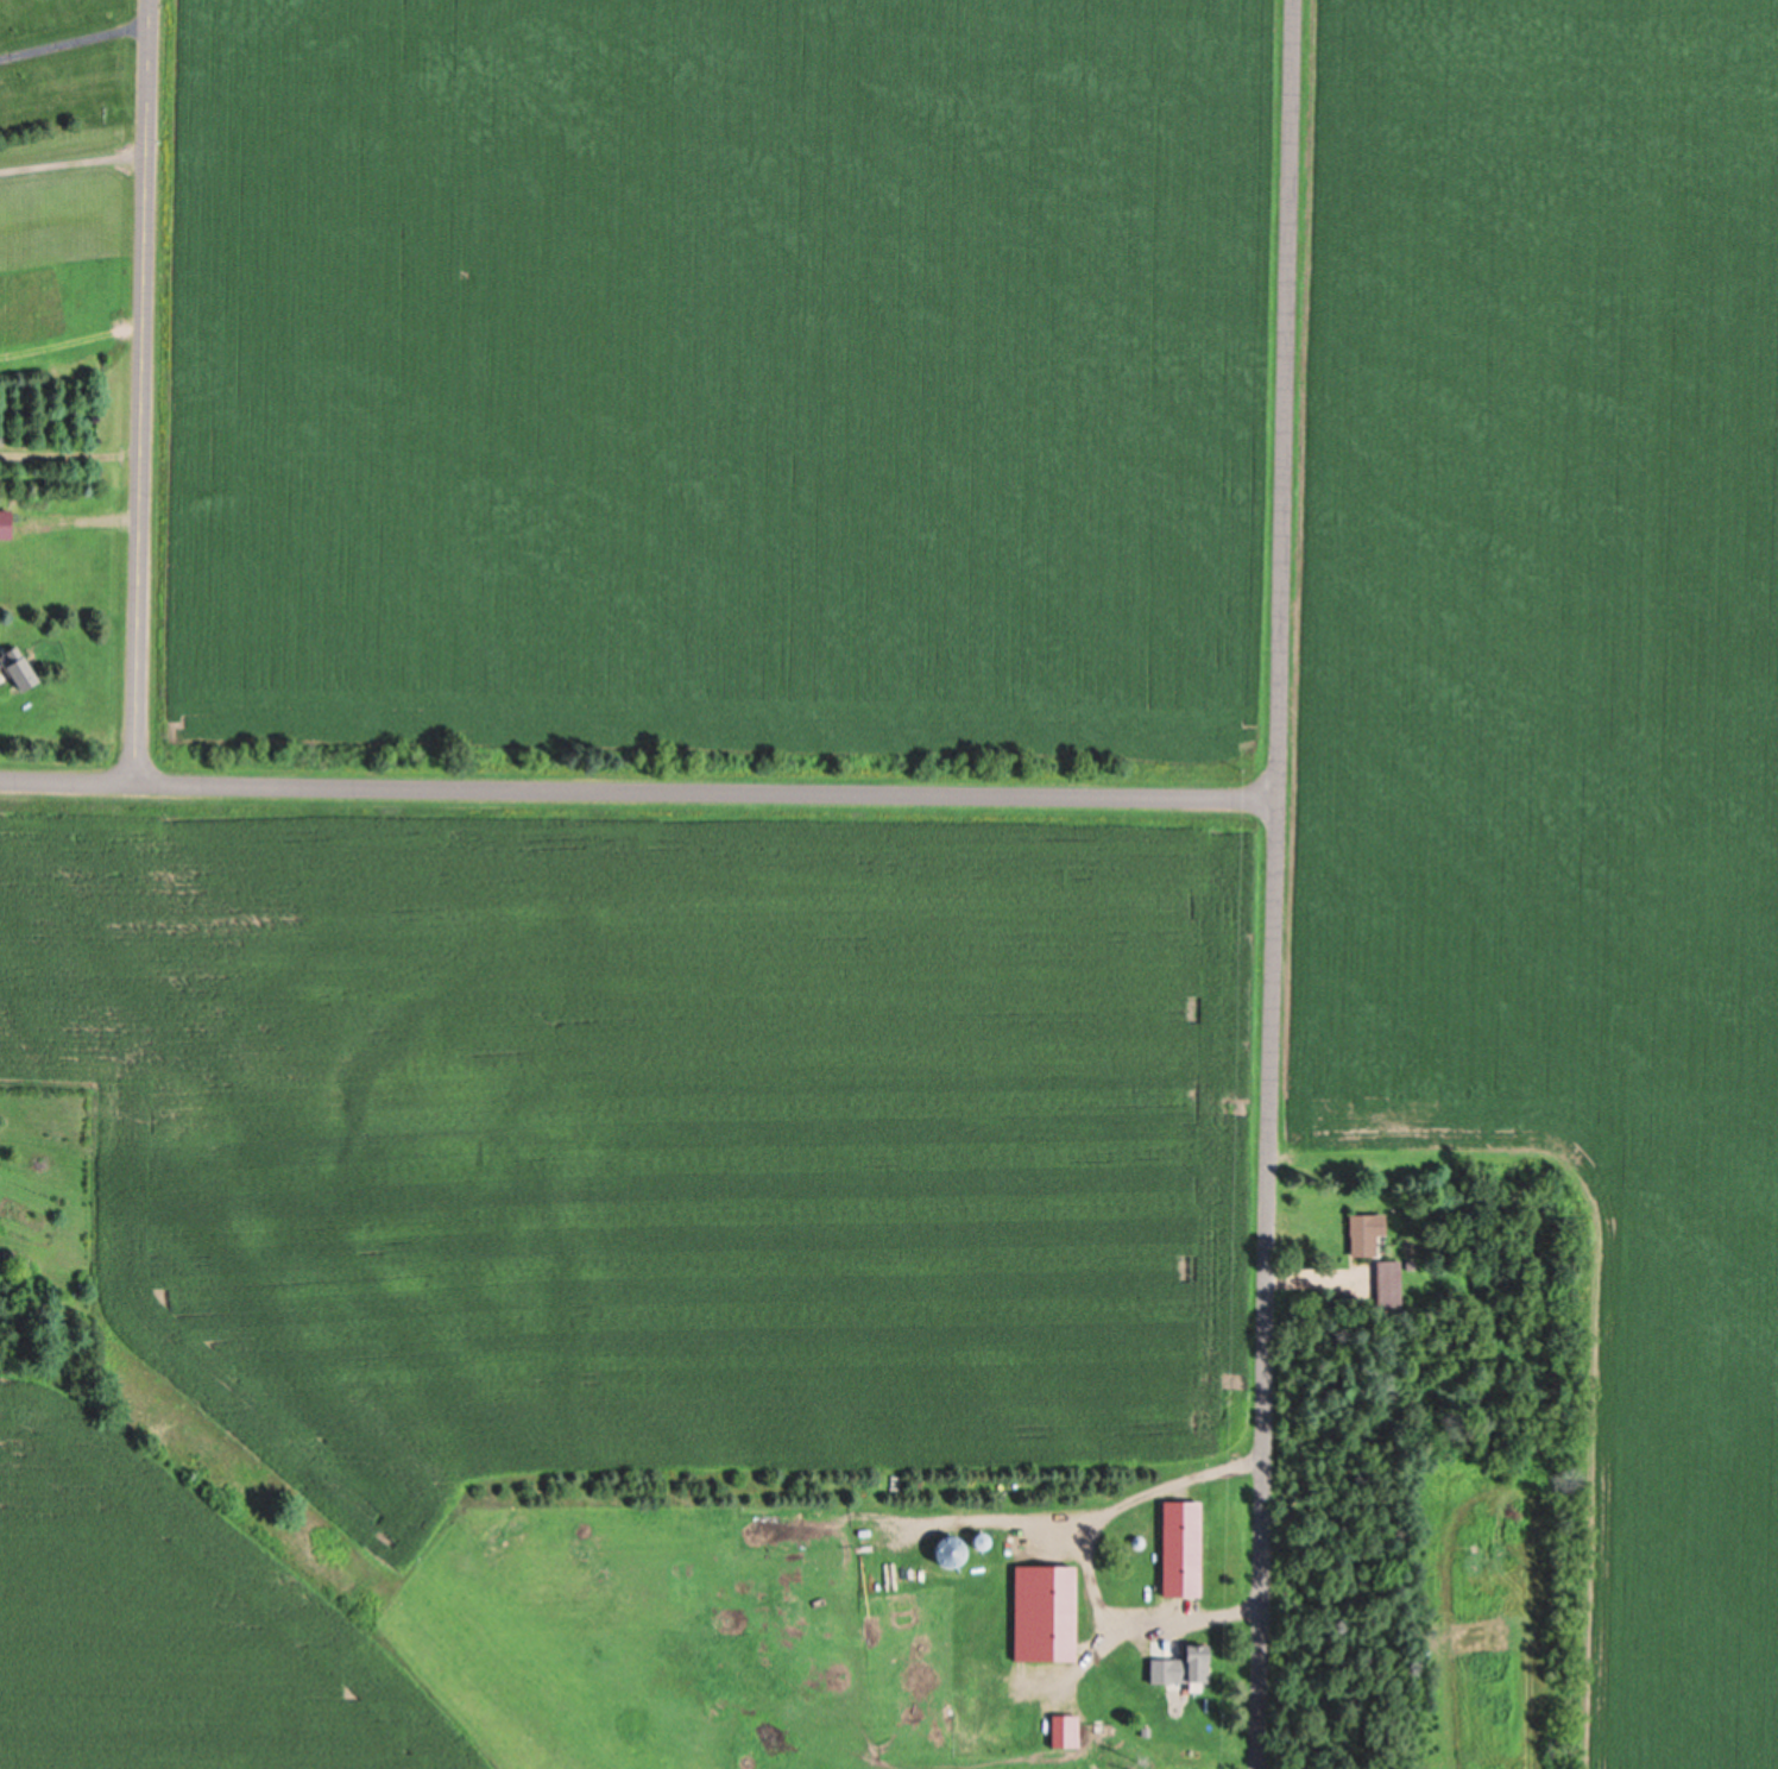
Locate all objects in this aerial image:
road: (141, 391)
building: (13, 667)
road: (637, 789)
road: (1272, 885)
building: (1362, 1233)
building: (1387, 1283)
building: (1179, 1548)
building: (942, 1549)
building: (1052, 1612)
building: (1178, 1666)

